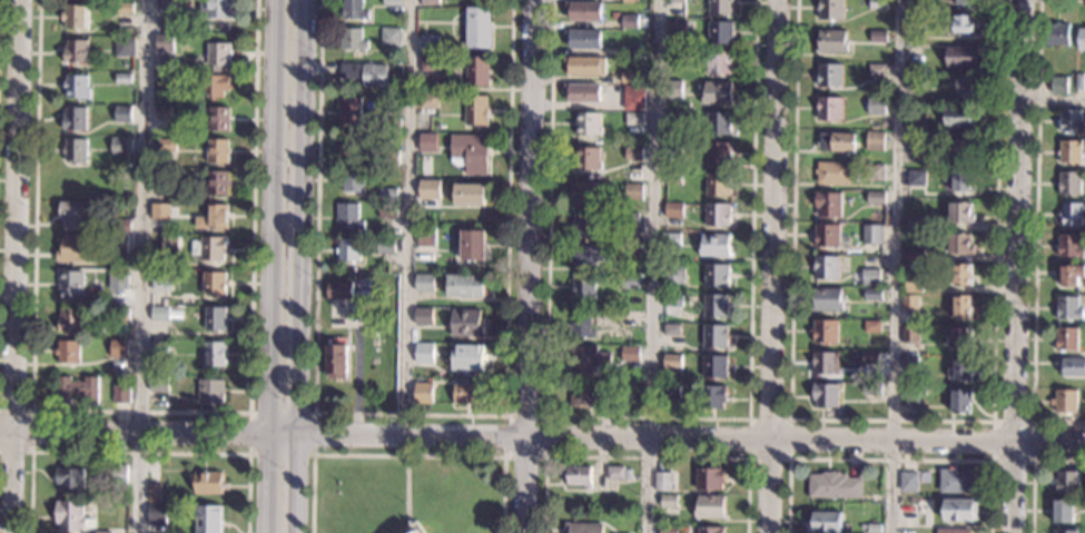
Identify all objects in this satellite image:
building: (630, 1)
building: (675, 1)
building: (965, 1)
building: (389, 2)
building: (428, 2)
building: (877, 4)
building: (165, 6)
building: (721, 6)
building: (915, 6)
building: (125, 8)
building: (215, 8)
building: (829, 9)
building: (352, 10)
building: (583, 11)
building: (75, 18)
building: (629, 22)
building: (916, 24)
building: (959, 24)
building: (675, 27)
building: (477, 28)
building: (721, 32)
building: (1057, 33)
building: (879, 36)
building: (389, 37)
building: (351, 39)
building: (1082, 39)
building: (582, 40)
building: (164, 42)
building: (830, 42)
building: (427, 43)
building: (124, 47)
building: (629, 51)
building: (76, 53)
building: (218, 56)
building: (674, 57)
building: (960, 57)
building: (720, 62)
building: (428, 63)
building: (584, 67)
building: (877, 70)
building: (476, 72)
building: (364, 73)
building: (829, 76)
building: (124, 78)
building: (629, 78)
building: (1079, 81)
building: (165, 83)
building: (914, 83)
building: (1057, 85)
building: (214, 87)
building: (77, 88)
building: (966, 88)
building: (672, 90)
building: (582, 92)
building: (717, 95)
road: (1053, 99)
building: (363, 100)
building: (633, 102)
building: (427, 103)
building: (876, 106)
building: (829, 109)
building: (475, 110)
building: (348, 111)
building: (162, 112)
building: (122, 113)
building: (958, 117)
building: (674, 118)
building: (75, 119)
building: (218, 119)
building: (634, 119)
building: (1071, 120)
building: (586, 124)
building: (720, 124)
building: (388, 125)
building: (916, 130)
building: (874, 140)
building: (837, 142)
building: (426, 144)
building: (167, 146)
building: (916, 146)
building: (122, 147)
building: (348, 148)
building: (964, 149)
building: (76, 150)
building: (673, 150)
building: (218, 151)
building: (470, 152)
building: (1069, 152)
building: (633, 154)
building: (718, 154)
building: (388, 158)
building: (586, 159)
building: (875, 172)
building: (834, 174)
building: (162, 175)
building: (673, 179)
building: (917, 179)
building: (351, 180)
building: (958, 181)
building: (217, 184)
building: (1068, 184)
building: (718, 185)
building: (427, 189)
building: (633, 191)
building: (585, 194)
building: (387, 195)
building: (467, 195)
building: (876, 197)
building: (828, 204)
road: (752, 209)
building: (161, 210)
building: (673, 210)
building: (387, 211)
building: (718, 214)
building: (75, 215)
building: (960, 215)
building: (1071, 215)
building: (215, 217)
building: (346, 217)
road: (406, 217)
road: (273, 218)
road: (303, 218)
building: (630, 219)
building: (584, 225)
building: (916, 225)
building: (121, 226)
building: (872, 235)
building: (827, 236)
building: (425, 237)
road: (1034, 237)
building: (670, 239)
building: (959, 244)
building: (118, 245)
building: (714, 246)
building: (384, 247)
building: (471, 247)
building: (1069, 247)
building: (77, 248)
building: (170, 248)
building: (209, 249)
building: (346, 249)
building: (630, 251)
building: (916, 254)
building: (586, 256)
road: (18, 266)
road: (140, 266)
road: (527, 266)
road: (653, 266)
road: (772, 266)
road: (898, 266)
road: (1019, 266)
building: (826, 267)
building: (672, 274)
building: (961, 275)
building: (1071, 275)
building: (716, 276)
building: (870, 278)
building: (119, 282)
building: (161, 282)
building: (423, 284)
building: (629, 284)
building: (215, 285)
building: (70, 286)
building: (464, 286)
building: (583, 287)
building: (915, 288)
building: (338, 290)
building: (872, 296)
building: (671, 300)
building: (827, 300)
building: (910, 304)
building: (716, 306)
building: (961, 306)
road: (546, 309)
building: (1068, 309)
building: (120, 314)
building: (159, 314)
building: (422, 317)
building: (71, 319)
building: (216, 319)
building: (465, 323)
building: (583, 324)
building: (871, 326)
building: (671, 330)
building: (823, 330)
building: (909, 335)
building: (716, 336)
building: (959, 337)
building: (1066, 339)
building: (120, 348)
building: (159, 351)
building: (68, 353)
building: (422, 353)
building: (630, 353)
building: (215, 355)
building: (465, 357)
building: (588, 359)
building: (671, 361)
building: (335, 363)
building: (823, 364)
building: (909, 364)
building: (869, 366)
building: (716, 367)
building: (1071, 367)
building: (960, 369)
building: (159, 385)
building: (78, 389)
building: (211, 392)
building: (670, 392)
building: (871, 392)
building: (121, 394)
building: (423, 394)
building: (466, 394)
building: (825, 395)
building: (588, 396)
building: (712, 397)
building: (909, 397)
building: (961, 401)
building: (1065, 401)
road: (141, 412)
road: (249, 413)
road: (410, 414)
road: (544, 417)
road: (789, 418)
road: (892, 420)
road: (1032, 423)
road: (31, 431)
road: (134, 436)
road: (283, 436)
road: (691, 438)
road: (139, 453)
road: (406, 455)
road: (645, 457)
road: (890, 460)
road: (1032, 471)
building: (117, 474)
building: (618, 474)
building: (579, 476)
building: (69, 480)
building: (710, 480)
building: (957, 481)
building: (661, 482)
building: (908, 482)
building: (206, 483)
building: (1066, 483)
road: (296, 484)
road: (267, 485)
building: (834, 486)
road: (406, 490)
building: (154, 492)
building: (668, 504)
building: (709, 507)
building: (960, 510)
building: (1062, 511)
building: (156, 514)
building: (69, 515)
building: (208, 519)
building: (823, 523)
building: (583, 527)
building: (870, 527)
building: (413, 529)
building: (668, 530)
building: (710, 530)
building: (951, 531)
building: (100, 532)
building: (1066, 532)

